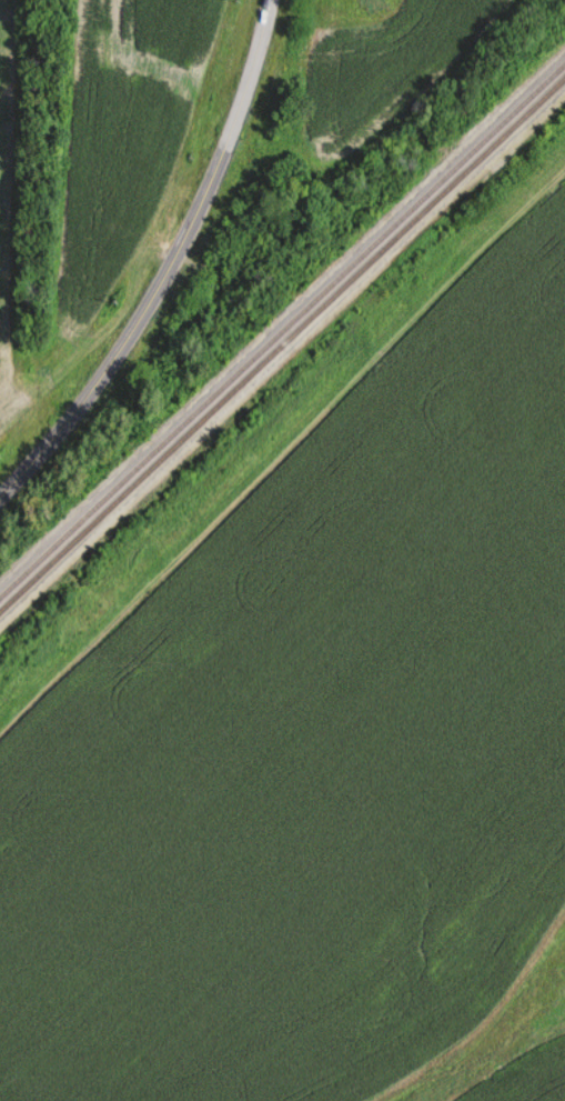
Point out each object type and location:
road: (169, 267)
railway: (282, 331)
railway: (282, 344)
railway: (282, 360)
road: (500, 1049)

